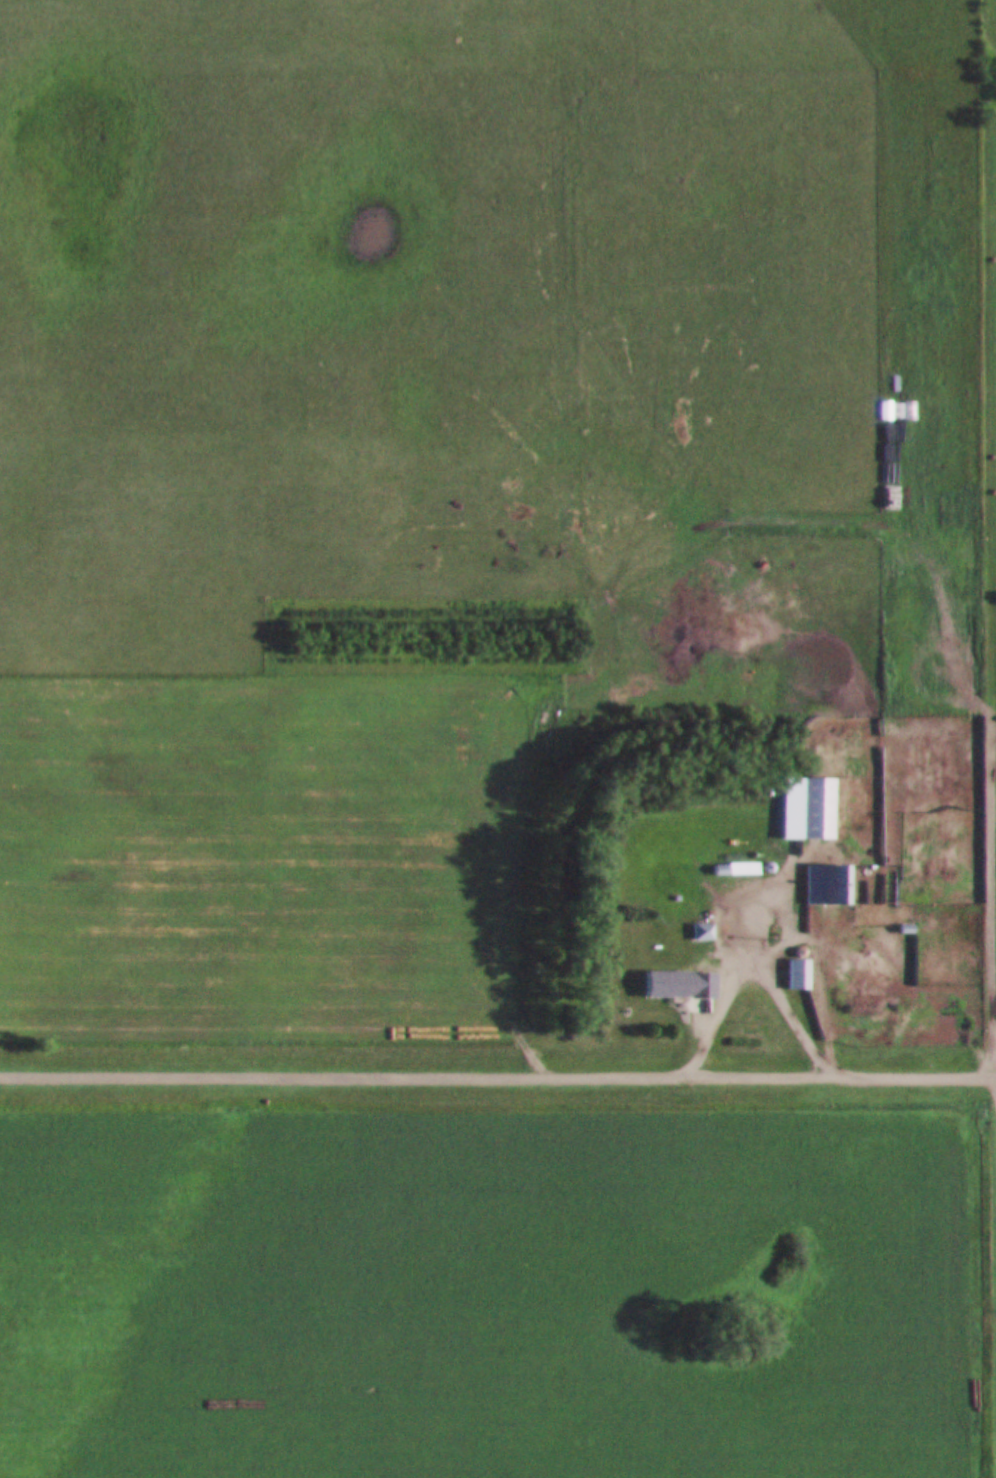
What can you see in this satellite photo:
building: (812, 810)
road: (509, 871)
building: (701, 932)
building: (796, 974)
road: (757, 977)
building: (676, 985)
building: (928, 998)
road: (498, 1079)
road: (993, 1084)

